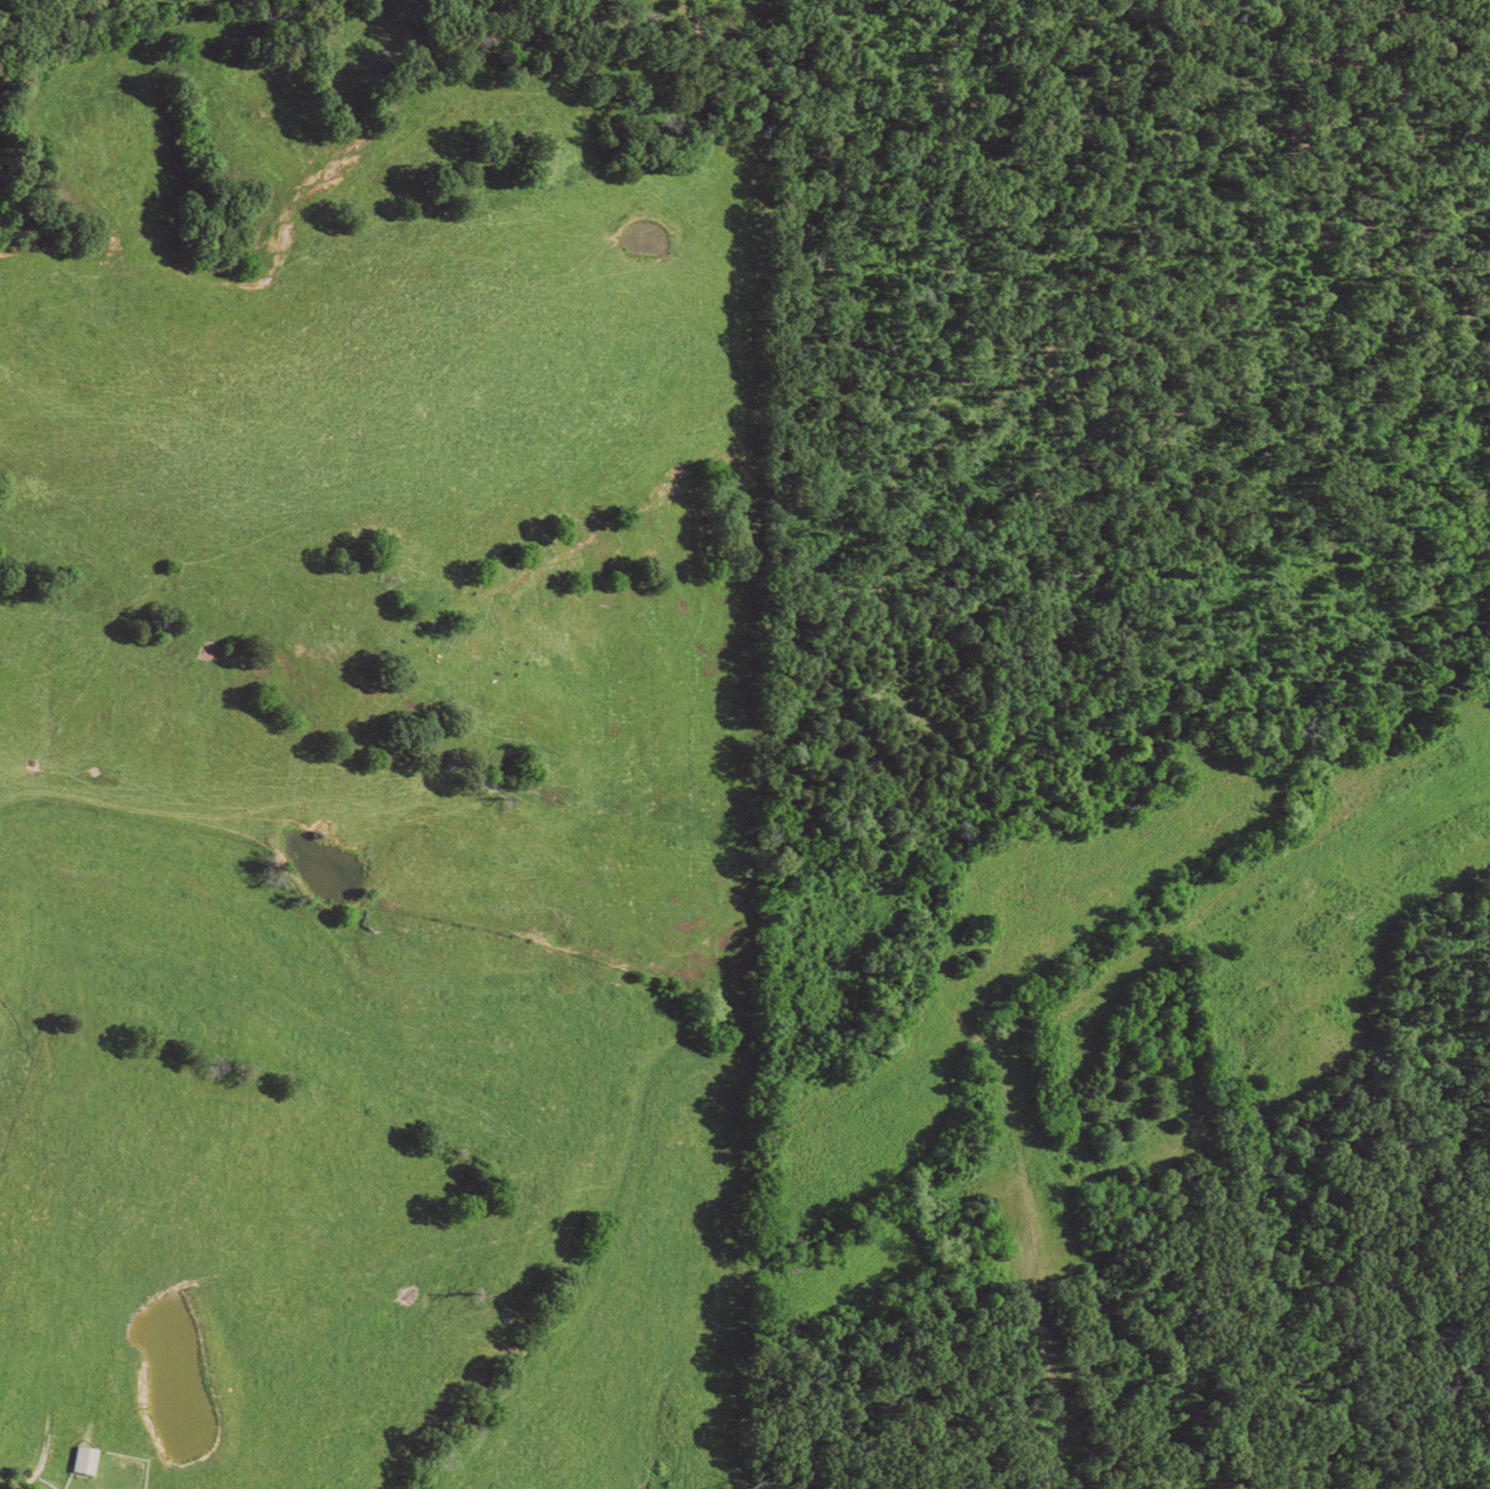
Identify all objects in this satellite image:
building: (93, 1460)

